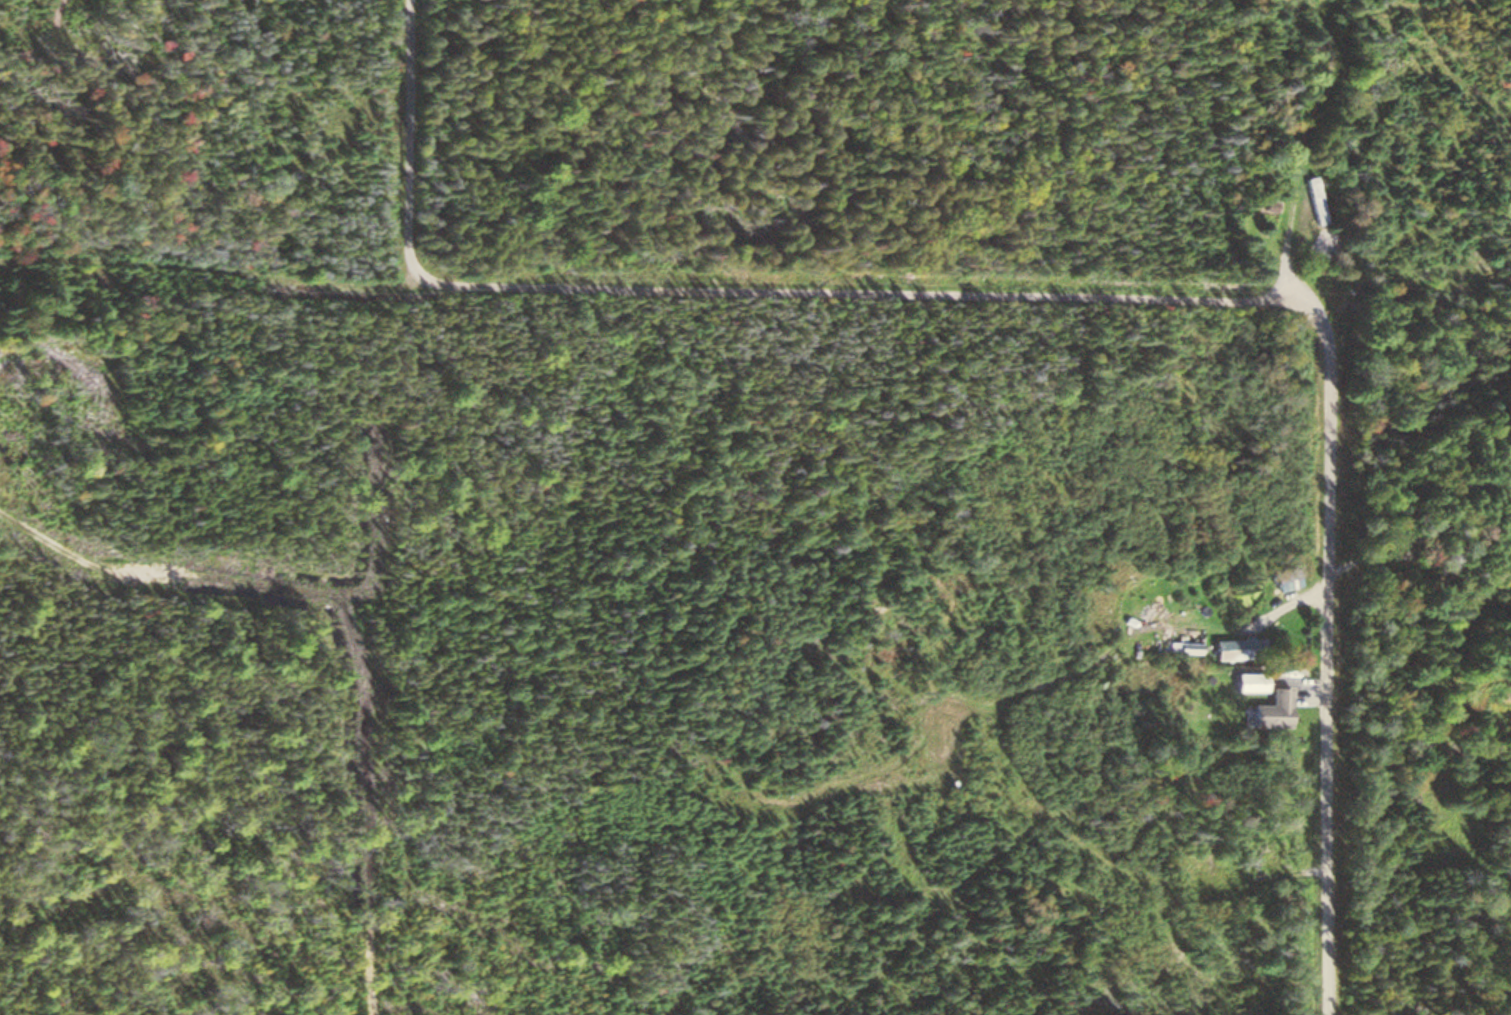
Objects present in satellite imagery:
building: (1312, 199)
building: (1274, 202)
building: (1319, 240)
road: (1084, 298)
building: (1278, 578)
building: (1230, 648)
building: (1241, 681)
building: (1266, 709)

